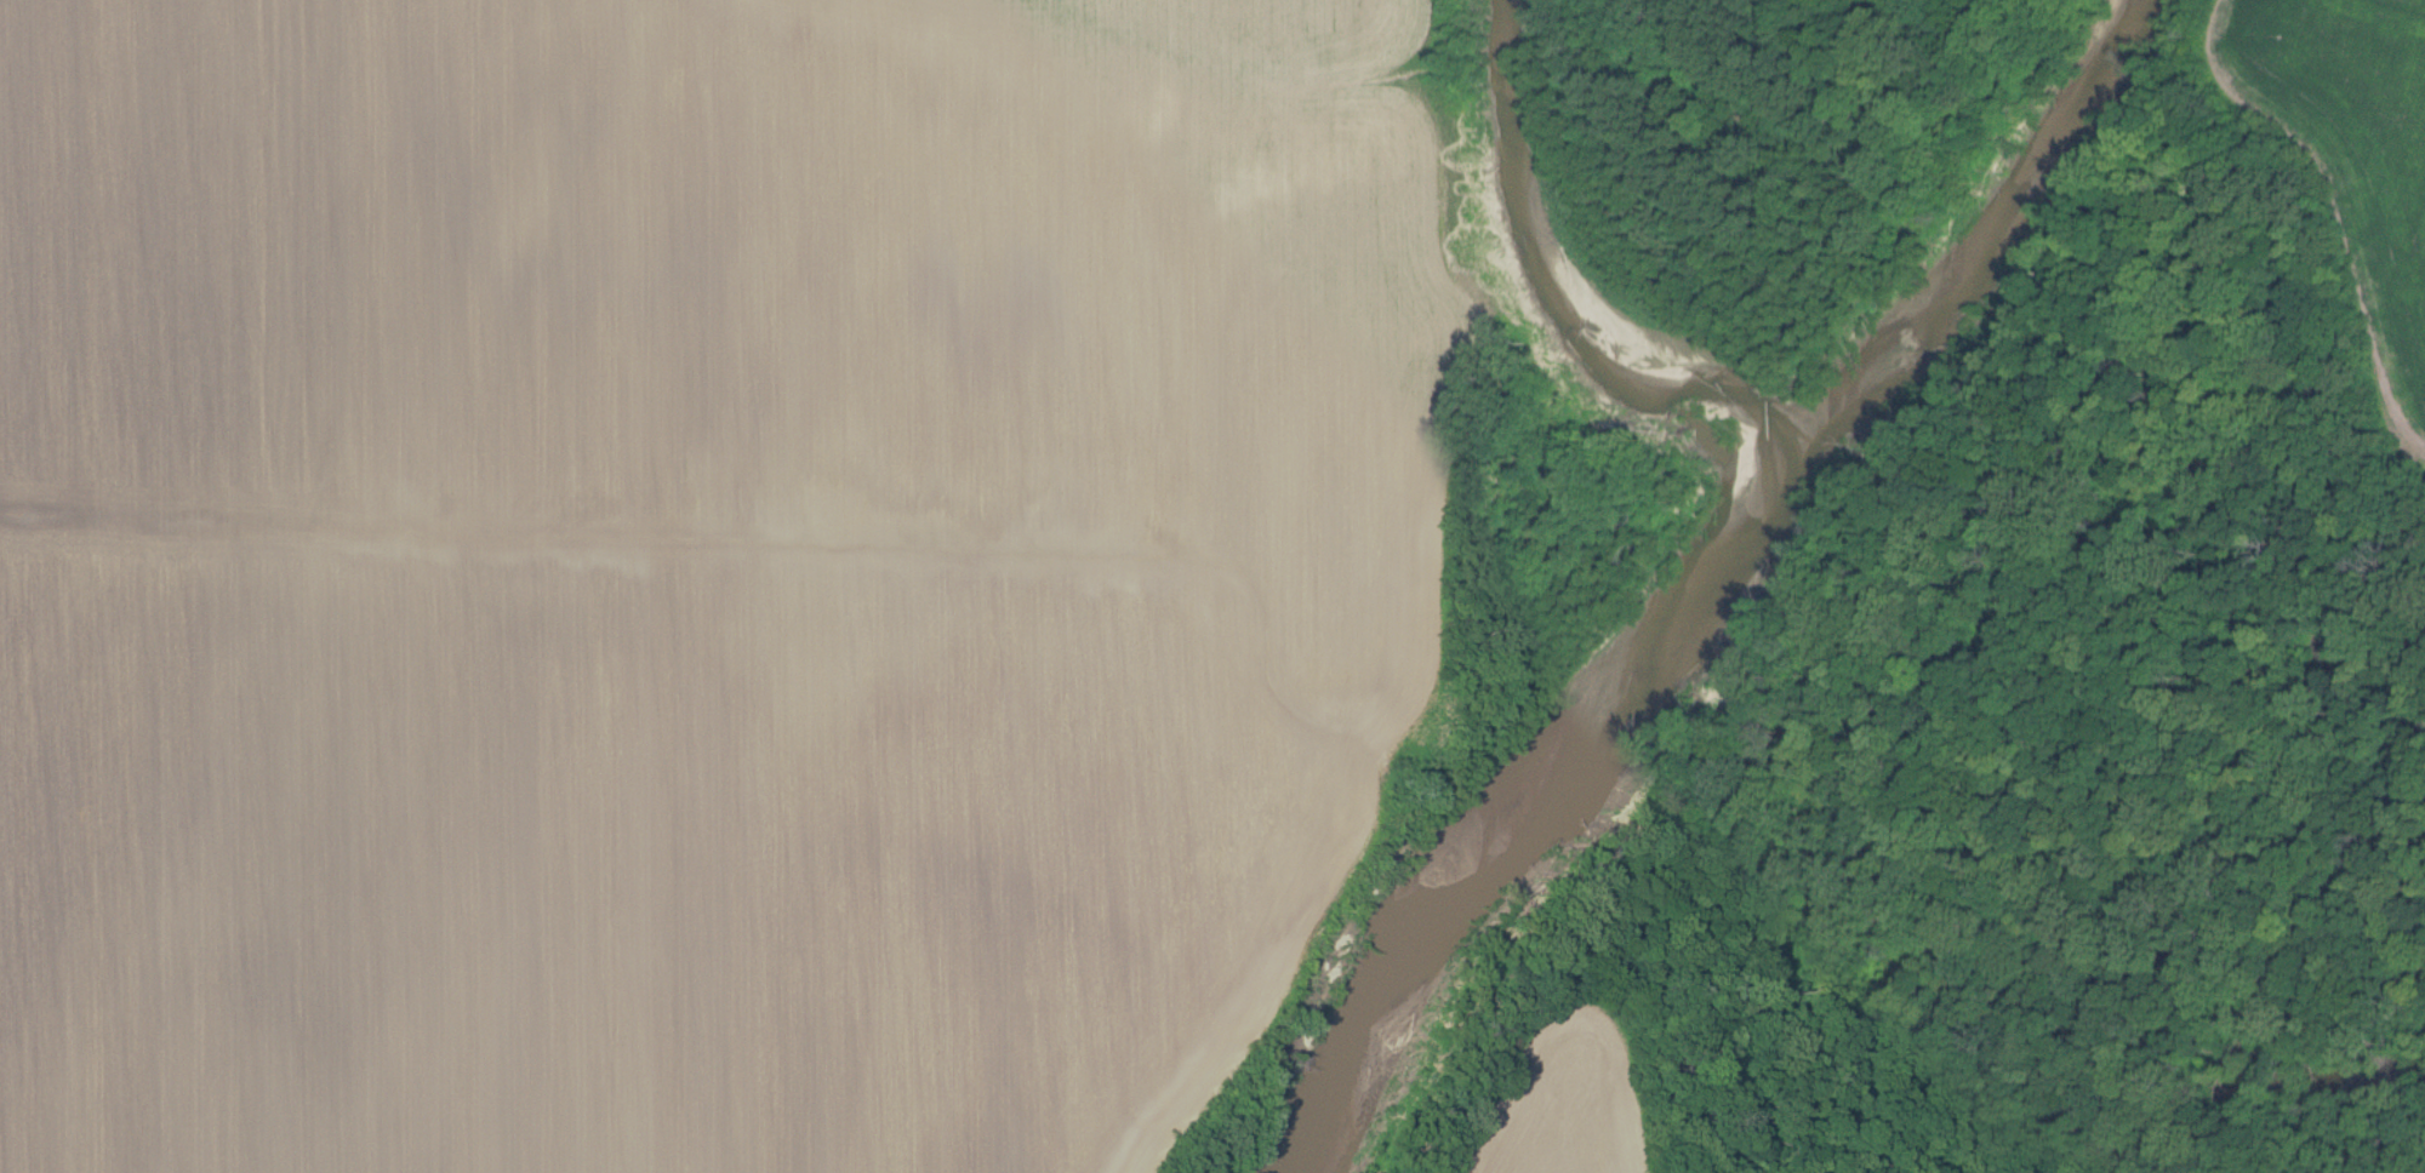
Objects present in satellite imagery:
river: (1571, 263)
river: (1684, 572)

